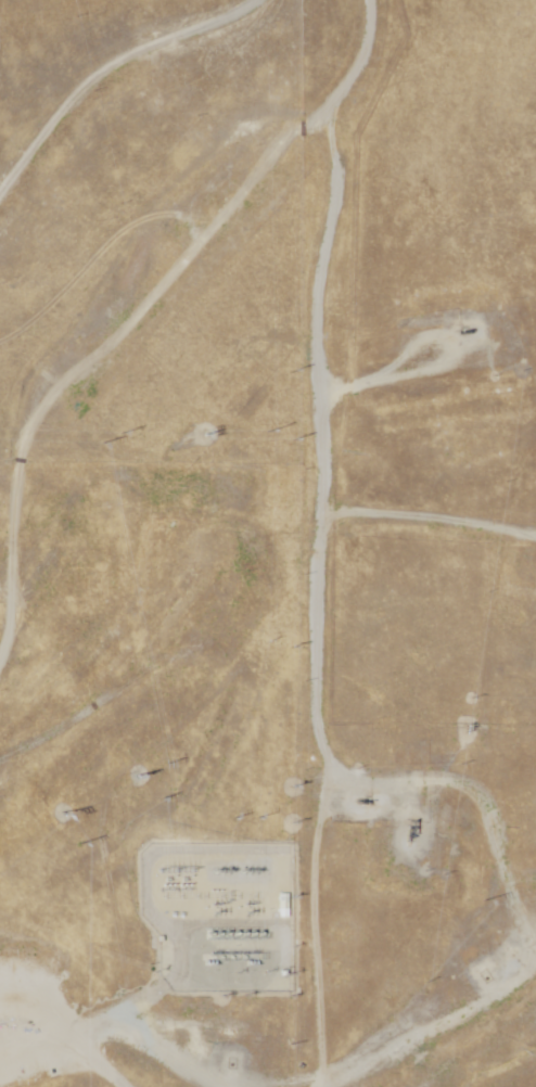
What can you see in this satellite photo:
road: (110, 79)
building: (282, 907)
road: (404, 1024)
road: (154, 1047)
road: (15, 1075)

